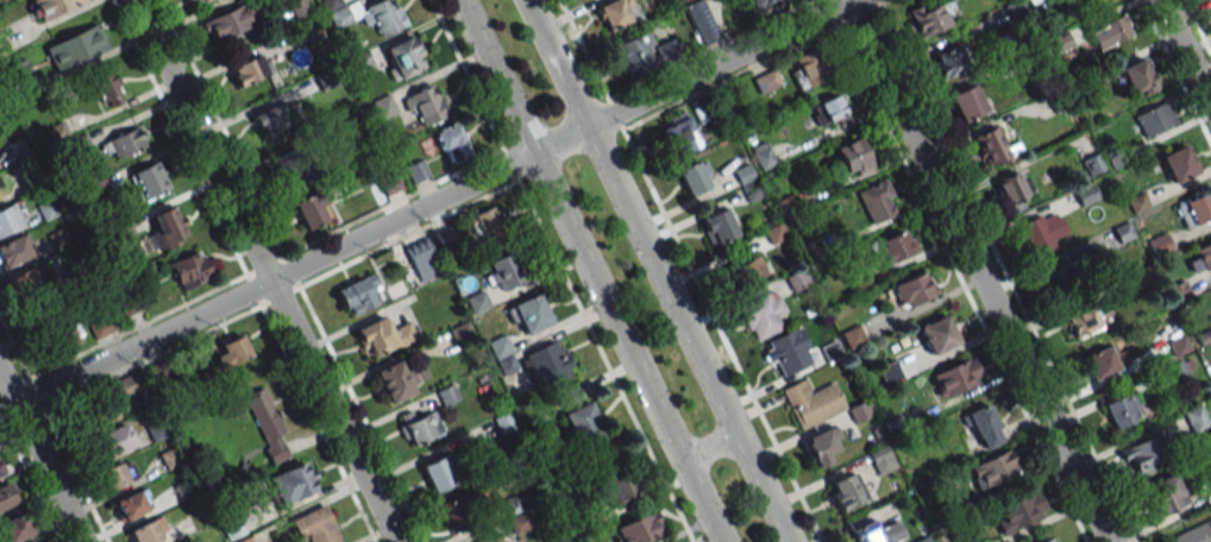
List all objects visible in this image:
building: (200, 0)
building: (680, 0)
building: (1091, 1)
building: (759, 2)
building: (51, 7)
building: (616, 12)
building: (340, 17)
building: (384, 17)
building: (931, 17)
building: (230, 21)
building: (699, 21)
building: (1109, 31)
building: (76, 48)
building: (667, 50)
building: (634, 52)
road: (1185, 52)
building: (402, 57)
building: (948, 62)
building: (249, 69)
building: (805, 70)
building: (1137, 77)
building: (766, 81)
building: (107, 89)
building: (967, 102)
building: (426, 105)
building: (383, 106)
building: (828, 111)
building: (1154, 118)
building: (270, 119)
building: (679, 137)
building: (451, 143)
building: (123, 144)
building: (993, 147)
building: (763, 155)
building: (853, 157)
building: (1092, 164)
building: (1178, 164)
building: (293, 171)
building: (416, 171)
building: (695, 176)
building: (150, 179)
building: (388, 179)
building: (1011, 188)
building: (0, 197)
building: (877, 201)
road: (432, 203)
building: (310, 209)
building: (1194, 209)
building: (11, 218)
building: (487, 223)
building: (169, 226)
building: (717, 226)
building: (1041, 232)
building: (1160, 244)
building: (895, 245)
building: (14, 250)
building: (1199, 258)
building: (422, 259)
building: (189, 270)
road: (265, 270)
building: (751, 270)
road: (977, 270)
building: (506, 271)
road: (589, 271)
road: (657, 271)
building: (29, 281)
building: (910, 290)
building: (357, 294)
building: (529, 314)
building: (761, 315)
building: (1080, 321)
building: (101, 327)
building: (937, 334)
building: (57, 336)
building: (382, 336)
building: (232, 352)
building: (788, 352)
building: (502, 354)
building: (1100, 361)
building: (547, 365)
building: (887, 372)
building: (955, 377)
building: (401, 378)
building: (569, 397)
building: (103, 402)
building: (811, 402)
building: (1123, 410)
building: (1196, 418)
building: (266, 423)
building: (583, 424)
building: (983, 427)
building: (420, 428)
building: (109, 441)
building: (821, 445)
road: (708, 447)
building: (1143, 456)
road: (40, 458)
building: (880, 460)
building: (992, 468)
building: (0, 471)
building: (437, 473)
building: (118, 474)
building: (293, 481)
building: (619, 489)
building: (845, 491)
building: (1167, 493)
building: (7, 494)
building: (132, 504)
building: (458, 511)
building: (1018, 512)
building: (315, 527)
building: (14, 528)
building: (639, 528)
building: (148, 531)
building: (876, 531)
building: (1193, 532)
building: (483, 540)
building: (1048, 540)
building: (37, 541)

